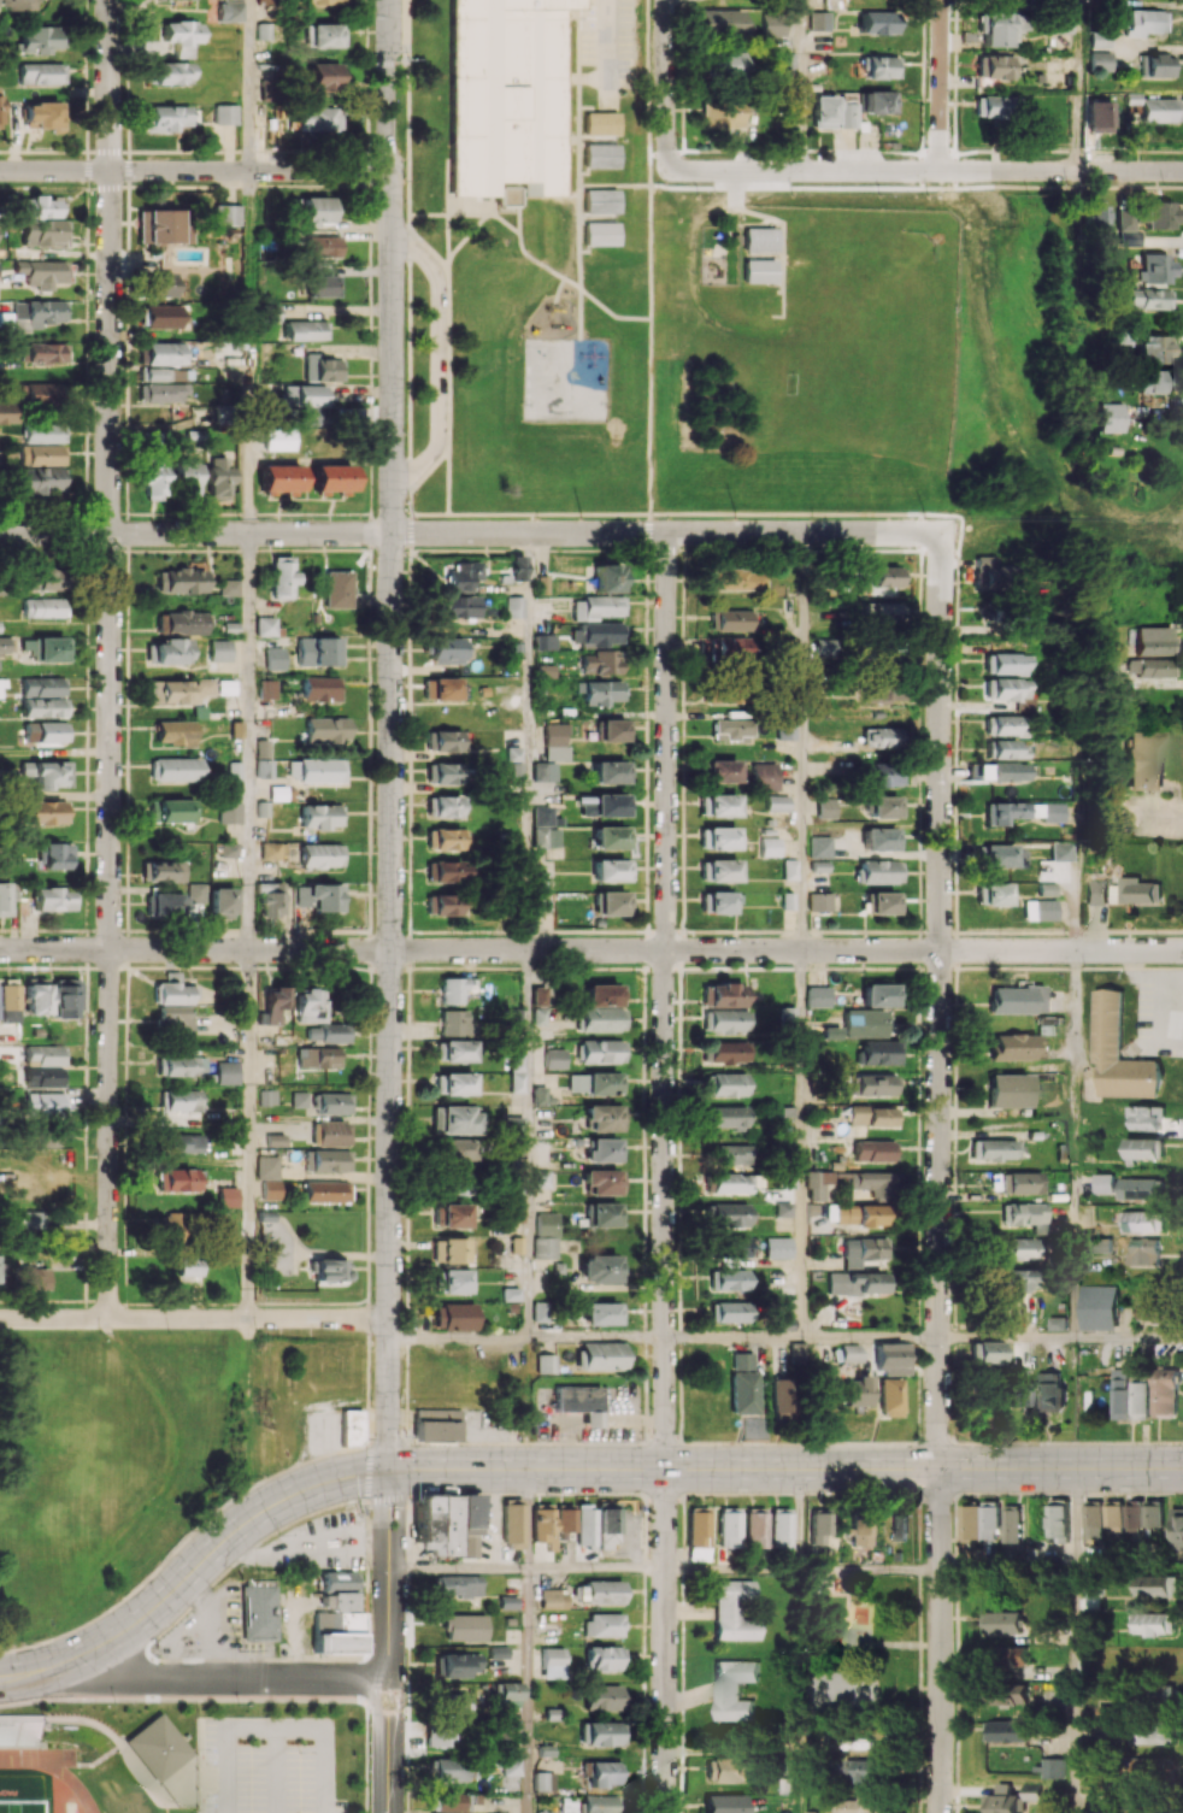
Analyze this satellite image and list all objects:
building: (239, 0)
building: (318, 1)
building: (266, 2)
building: (1061, 4)
building: (17, 5)
building: (229, 11)
building: (820, 20)
building: (723, 22)
building: (1141, 22)
building: (876, 23)
building: (1055, 23)
building: (776, 24)
building: (1000, 28)
building: (323, 35)
building: (182, 36)
road: (608, 39)
building: (39, 40)
building: (1095, 40)
parking lot: (610, 41)
building: (1095, 61)
building: (787, 63)
building: (723, 64)
building: (1152, 65)
building: (993, 66)
building: (882, 67)
building: (171, 72)
building: (41, 73)
building: (323, 76)
road: (583, 78)
road: (667, 83)
road: (251, 84)
road: (802, 84)
road: (941, 84)
road: (608, 88)
road: (1076, 88)
building: (504, 98)
building: (877, 101)
building: (996, 106)
building: (1156, 110)
building: (825, 111)
building: (225, 113)
building: (848, 113)
building: (722, 114)
building: (43, 116)
building: (1096, 116)
building: (165, 118)
building: (320, 119)
building: (599, 122)
building: (0, 124)
building: (599, 157)
road: (195, 170)
road: (928, 170)
building: (599, 201)
building: (36, 207)
building: (319, 210)
building: (225, 214)
building: (1160, 214)
building: (1124, 218)
building: (1095, 220)
building: (157, 225)
building: (43, 232)
building: (599, 234)
building: (1129, 239)
building: (760, 240)
building: (324, 246)
building: (1155, 269)
building: (42, 272)
building: (760, 273)
building: (159, 286)
building: (324, 286)
building: (1150, 298)
building: (760, 305)
building: (272, 312)
building: (37, 313)
building: (161, 316)
building: (307, 330)
building: (1156, 349)
road: (251, 351)
building: (46, 353)
building: (165, 353)
park: (848, 355)
road: (435, 358)
parking lot: (437, 360)
building: (323, 369)
building: (164, 375)
building: (1153, 381)
building: (45, 392)
building: (163, 392)
building: (311, 395)
building: (7, 412)
building: (1111, 417)
building: (43, 432)
building: (278, 438)
building: (42, 454)
building: (217, 477)
building: (279, 477)
building: (188, 478)
building: (329, 478)
building: (42, 481)
building: (153, 482)
road: (195, 532)
road: (665, 532)
building: (517, 567)
building: (990, 570)
building: (461, 575)
building: (887, 576)
building: (281, 577)
building: (41, 578)
building: (605, 578)
building: (181, 579)
building: (735, 579)
building: (229, 587)
building: (336, 590)
building: (457, 606)
building: (45, 607)
building: (514, 607)
building: (595, 607)
building: (883, 613)
building: (730, 620)
building: (181, 622)
building: (0, 625)
building: (265, 626)
building: (600, 634)
building: (1153, 641)
building: (6, 646)
building: (28, 646)
building: (785, 647)
building: (823, 647)
building: (53, 648)
building: (220, 649)
building: (728, 649)
building: (172, 651)
building: (320, 651)
building: (446, 651)
road: (110, 659)
building: (275, 659)
building: (599, 663)
building: (1004, 664)
building: (1150, 667)
building: (545, 671)
building: (2, 683)
building: (43, 685)
building: (228, 685)
building: (266, 688)
building: (441, 688)
building: (320, 689)
building: (179, 690)
building: (1007, 690)
building: (600, 691)
building: (879, 691)
building: (45, 707)
building: (1002, 725)
building: (785, 729)
building: (328, 730)
building: (614, 730)
building: (46, 731)
building: (173, 732)
building: (736, 734)
road: (390, 735)
building: (878, 737)
road: (249, 741)
building: (442, 741)
road: (529, 741)
building: (555, 741)
road: (802, 741)
building: (1005, 749)
building: (1146, 760)
building: (176, 769)
building: (264, 769)
building: (316, 770)
building: (545, 771)
building: (720, 771)
building: (1006, 771)
building: (612, 772)
building: (48, 773)
building: (443, 773)
building: (883, 775)
building: (764, 776)
building: (777, 802)
building: (607, 805)
building: (718, 805)
building: (883, 806)
building: (445, 807)
building: (825, 807)
building: (172, 811)
building: (46, 812)
building: (230, 812)
building: (1002, 812)
building: (1050, 813)
building: (322, 816)
building: (543, 816)
building: (546, 836)
building: (612, 837)
building: (443, 838)
building: (719, 838)
building: (881, 838)
building: (770, 846)
building: (820, 847)
building: (229, 849)
building: (272, 849)
building: (1061, 850)
building: (57, 855)
building: (322, 855)
building: (997, 855)
road: (1077, 857)
building: (789, 869)
building: (612, 870)
building: (718, 870)
building: (161, 871)
building: (448, 871)
building: (879, 871)
building: (540, 881)
building: (195, 890)
building: (1137, 890)
building: (1096, 891)
building: (994, 894)
building: (320, 896)
building: (5, 899)
building: (51, 899)
building: (271, 900)
building: (819, 901)
building: (223, 902)
building: (613, 902)
building: (719, 902)
building: (883, 902)
building: (441, 903)
building: (166, 905)
building: (1040, 910)
road: (195, 949)
road: (787, 950)
building: (457, 989)
building: (173, 990)
building: (602, 995)
building: (720, 995)
building: (881, 995)
building: (63, 996)
building: (540, 996)
building: (818, 996)
building: (7, 997)
building: (34, 997)
building: (1018, 999)
road: (665, 1000)
road: (940, 1001)
building: (271, 1003)
building: (307, 1006)
building: (538, 1016)
building: (788, 1016)
building: (514, 1017)
building: (601, 1019)
building: (726, 1019)
building: (172, 1020)
building: (453, 1022)
building: (865, 1023)
building: (323, 1032)
building: (832, 1032)
building: (1013, 1046)
building: (453, 1050)
building: (601, 1050)
building: (726, 1052)
building: (881, 1052)
building: (1119, 1052)
building: (45, 1055)
building: (314, 1058)
building: (554, 1059)
building: (176, 1065)
building: (517, 1071)
building: (224, 1072)
building: (45, 1077)
building: (452, 1083)
building: (594, 1083)
building: (726, 1084)
building: (877, 1084)
building: (1010, 1090)
building: (540, 1095)
building: (266, 1096)
building: (183, 1100)
building: (322, 1102)
building: (47, 1105)
building: (725, 1116)
building: (872, 1116)
building: (1146, 1116)
building: (602, 1118)
building: (454, 1119)
building: (330, 1132)
building: (514, 1132)
road: (248, 1134)
building: (275, 1140)
building: (182, 1142)
road: (802, 1143)
road: (1075, 1143)
road: (529, 1144)
building: (1144, 1148)
building: (457, 1149)
building: (604, 1149)
building: (993, 1149)
building: (875, 1150)
building: (732, 1154)
building: (330, 1160)
building: (269, 1176)
building: (541, 1178)
building: (178, 1179)
building: (604, 1182)
building: (1023, 1182)
building: (454, 1183)
building: (872, 1183)
building: (1106, 1183)
building: (819, 1185)
building: (1143, 1188)
building: (325, 1191)
building: (228, 1196)
building: (783, 1208)
building: (514, 1212)
building: (1023, 1213)
building: (605, 1214)
building: (728, 1214)
building: (861, 1214)
building: (452, 1215)
building: (33, 1218)
building: (1146, 1220)
building: (547, 1223)
building: (172, 1226)
building: (1102, 1243)
building: (517, 1244)
building: (545, 1247)
building: (448, 1249)
building: (730, 1249)
building: (865, 1249)
building: (1018, 1249)
building: (1144, 1252)
building: (192, 1266)
building: (601, 1267)
building: (329, 1270)
building: (33, 1278)
building: (726, 1279)
building: (1018, 1279)
building: (451, 1281)
building: (858, 1283)
building: (510, 1294)
building: (1097, 1307)
building: (540, 1312)
building: (725, 1312)
building: (602, 1313)
building: (454, 1315)
road: (193, 1318)
building: (1059, 1323)
road: (598, 1337)
road: (734, 1337)
road: (871, 1337)
road: (1007, 1337)
road: (1129, 1337)
road: (459, 1338)
building: (985, 1352)
building: (851, 1353)
building: (600, 1356)
building: (890, 1358)
building: (741, 1361)
building: (545, 1362)
building: (855, 1390)
building: (1052, 1390)
building: (1165, 1390)
building: (743, 1393)
building: (1130, 1395)
building: (888, 1396)
building: (779, 1401)
building: (581, 1402)
building: (436, 1424)
building: (351, 1426)
building: (753, 1428)
road: (584, 1468)
traffic signals: (389, 1470)
building: (1152, 1513)
building: (1112, 1515)
building: (1132, 1515)
road: (490, 1518)
building: (565, 1518)
road: (801, 1518)
road: (1073, 1519)
building: (981, 1520)
building: (1059, 1520)
building: (512, 1523)
building: (1012, 1523)
building: (1091, 1523)
building: (435, 1524)
building: (543, 1524)
building: (607, 1524)
building: (467, 1525)
building: (818, 1525)
building: (900, 1525)
building: (584, 1527)
building: (729, 1527)
building: (754, 1527)
building: (779, 1527)
building: (1176, 1527)
building: (860, 1529)
building: (698, 1534)
road: (440, 1567)
road: (510, 1567)
road: (596, 1568)
road: (734, 1568)
road: (870, 1568)
road: (1006, 1568)
building: (458, 1585)
building: (1158, 1585)
building: (599, 1593)
building: (553, 1599)
building: (508, 1601)
building: (734, 1611)
building: (260, 1612)
building: (337, 1615)
building: (1006, 1621)
building: (1155, 1623)
building: (602, 1625)
building: (464, 1627)
road: (937, 1640)
road: (389, 1641)
road: (665, 1641)
building: (498, 1652)
building: (1011, 1655)
building: (604, 1658)
building: (552, 1662)
building: (454, 1665)
road: (25, 1674)
road: (219, 1679)
building: (735, 1689)
road: (528, 1690)
road: (1072, 1691)
building: (507, 1693)
building: (1161, 1693)
building: (1017, 1694)
park: (842, 1695)
building: (601, 1696)
building: (451, 1702)
road: (251, 1727)
road: (300, 1727)
building: (19, 1729)
building: (1008, 1730)
building: (1155, 1731)
building: (602, 1733)
building: (446, 1735)
building: (158, 1749)
road: (732, 1752)
track: (51, 1766)
parking lot: (270, 1766)
building: (511, 1766)
building: (1053, 1767)
building: (449, 1768)
building: (1153, 1768)
road: (226, 1770)
road: (275, 1770)
building: (728, 1770)
road: (325, 1771)
building: (604, 1773)
building: (866, 1776)
building: (543, 1780)
building: (1099, 1780)
road: (800, 1783)
building: (1001, 1800)
building: (447, 1802)
building: (600, 1803)
building: (725, 1803)
building: (861, 1805)
park: (20, 1806)

